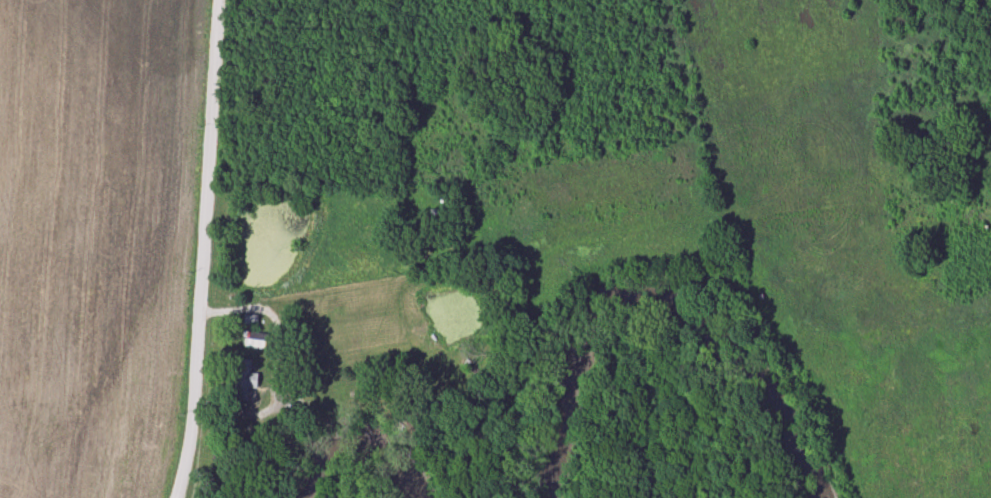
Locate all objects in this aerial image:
road: (217, 15)
building: (436, 241)
road: (203, 264)
river: (660, 318)
building: (243, 379)
river: (357, 461)

